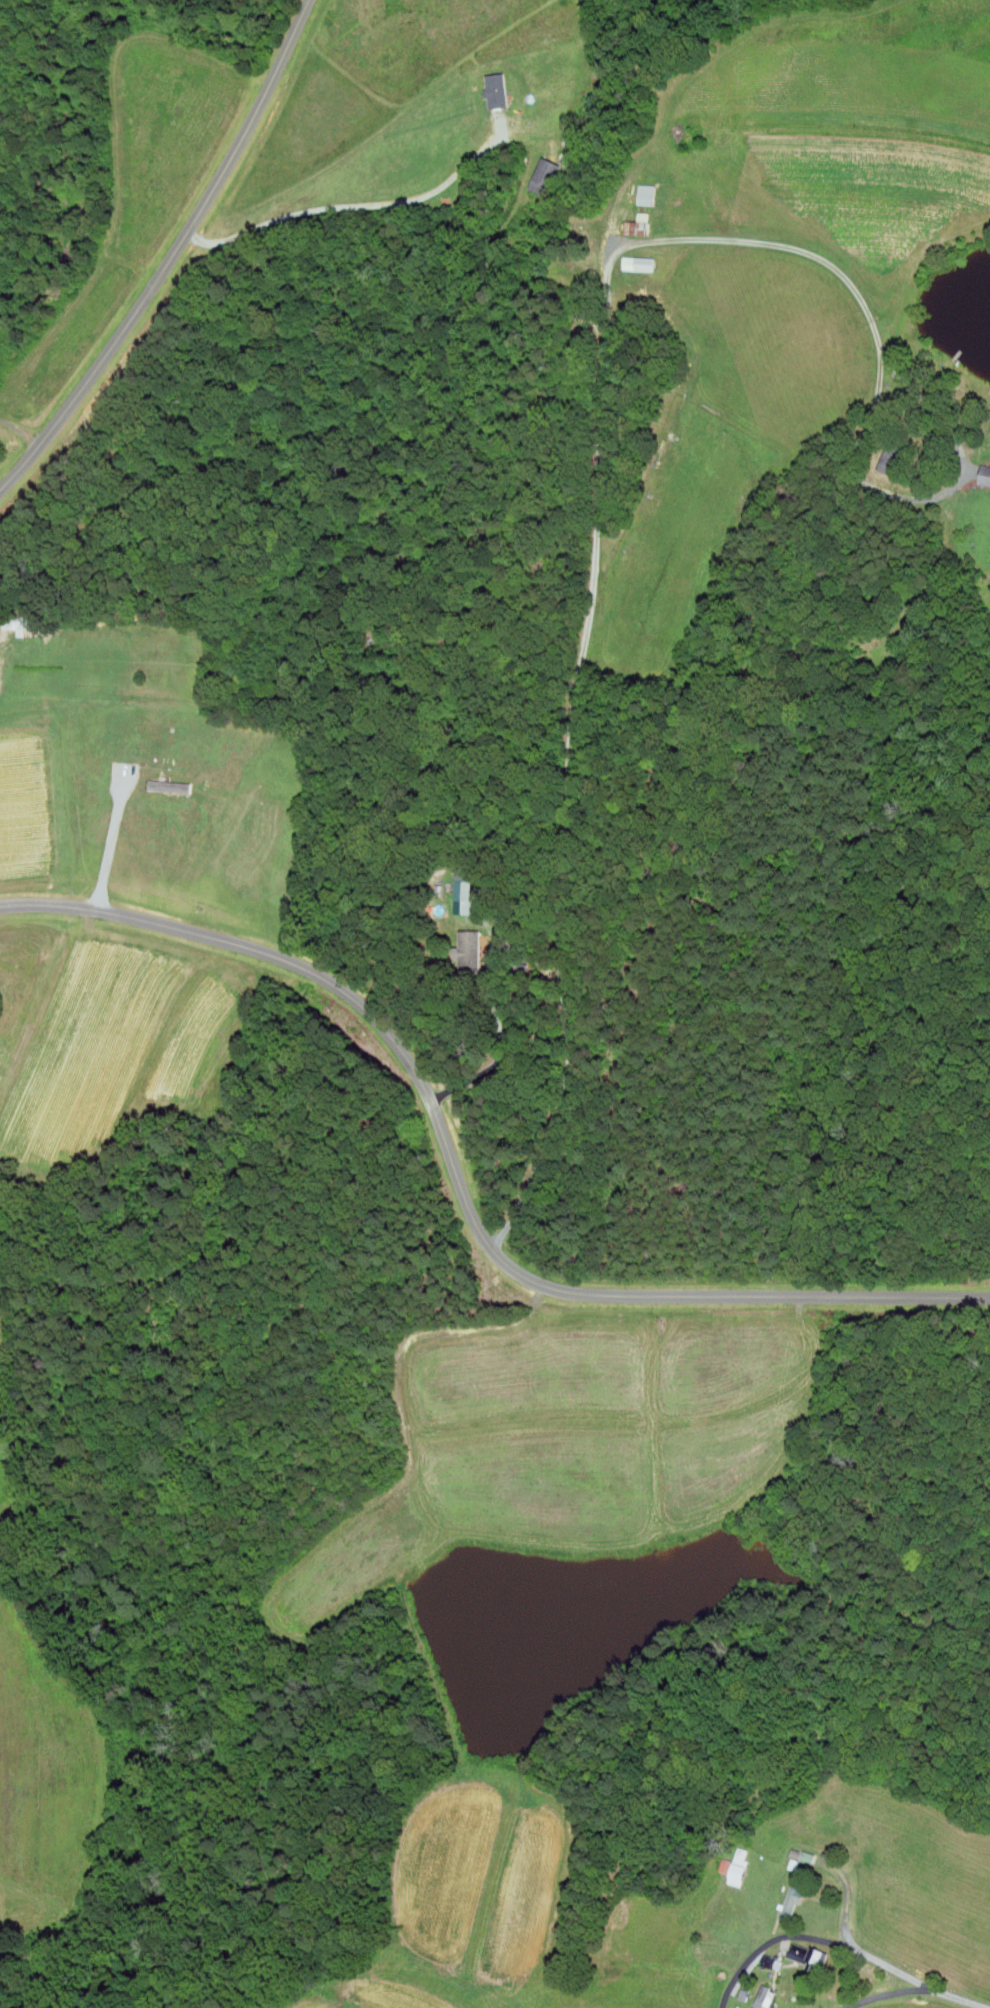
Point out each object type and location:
building: (496, 90)
building: (543, 176)
building: (642, 195)
road: (352, 205)
building: (637, 225)
road: (172, 255)
building: (638, 263)
pier: (957, 355)
road: (602, 394)
building: (890, 458)
building: (984, 475)
building: (25, 623)
road: (6, 670)
building: (171, 786)
road: (109, 854)
building: (461, 889)
building: (479, 892)
building: (503, 921)
building: (470, 949)
building: (521, 968)
road: (556, 979)
road: (459, 1180)
building: (803, 1857)
building: (736, 1868)
building: (794, 1899)
road: (810, 1935)
building: (808, 1958)
road: (885, 1994)
road: (957, 1997)

